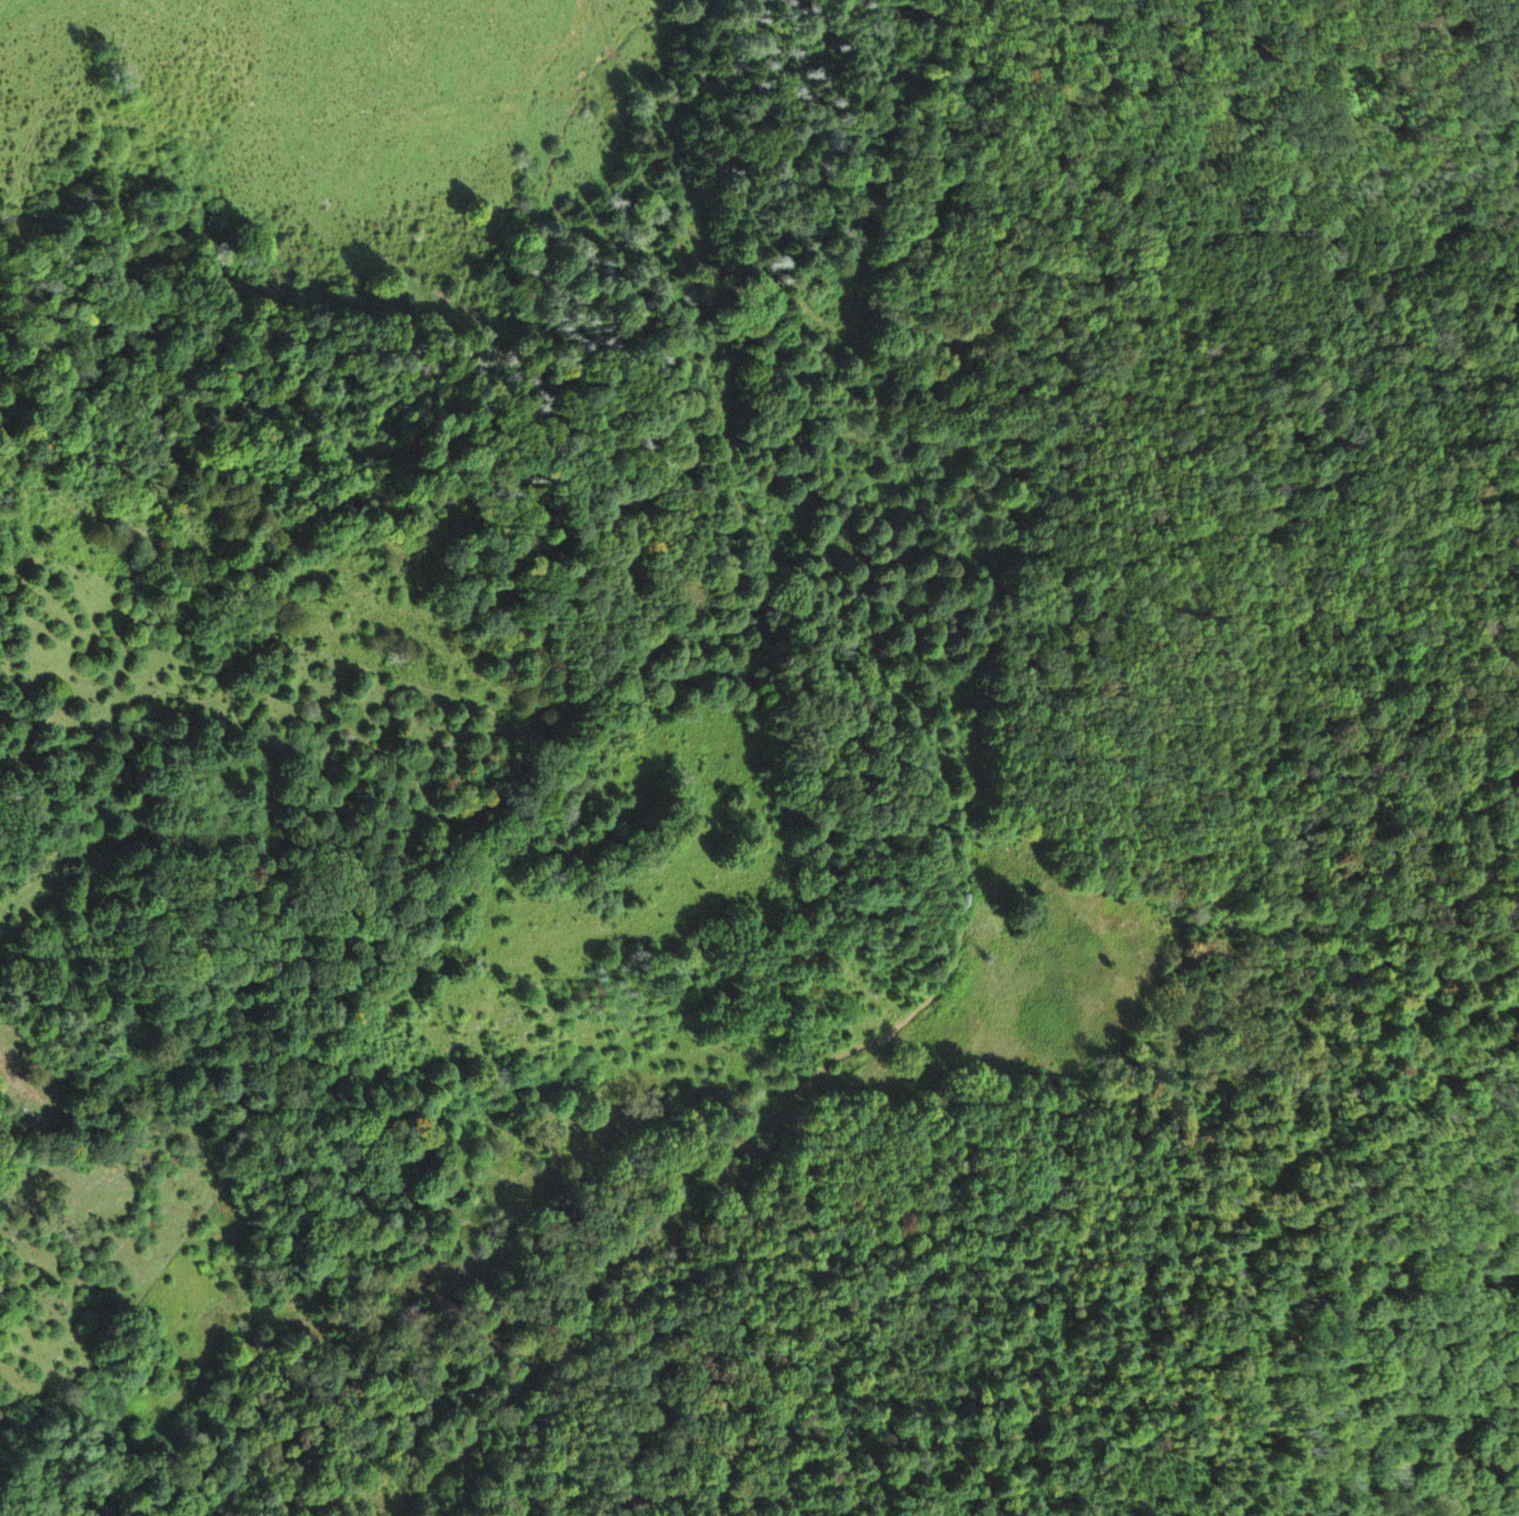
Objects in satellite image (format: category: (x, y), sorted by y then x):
road: (1122, 1471)

